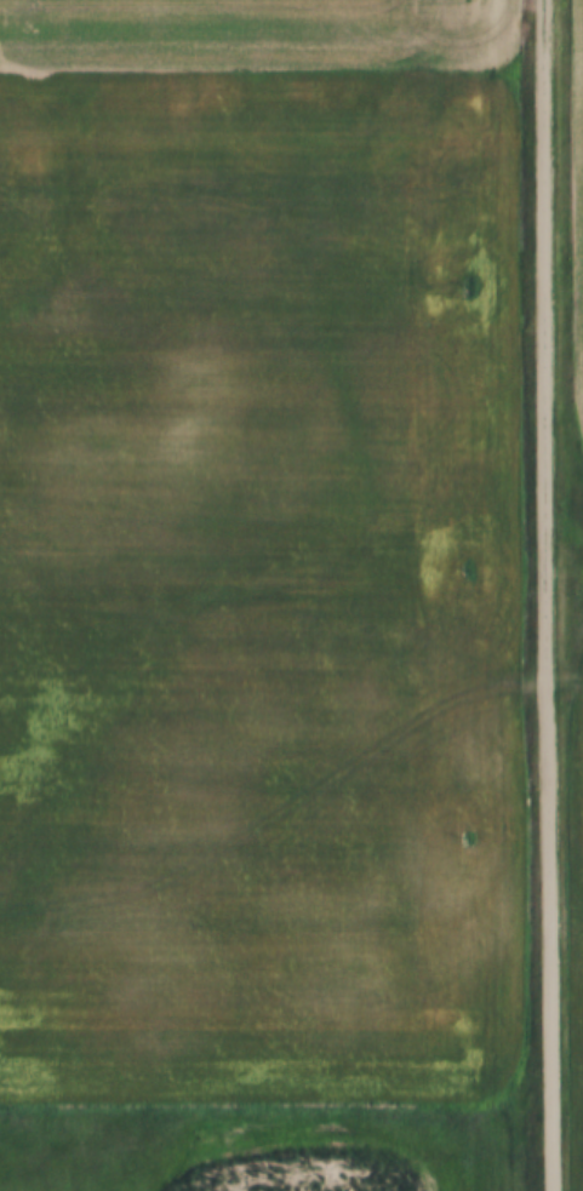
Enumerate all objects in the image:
road: (543, 595)

